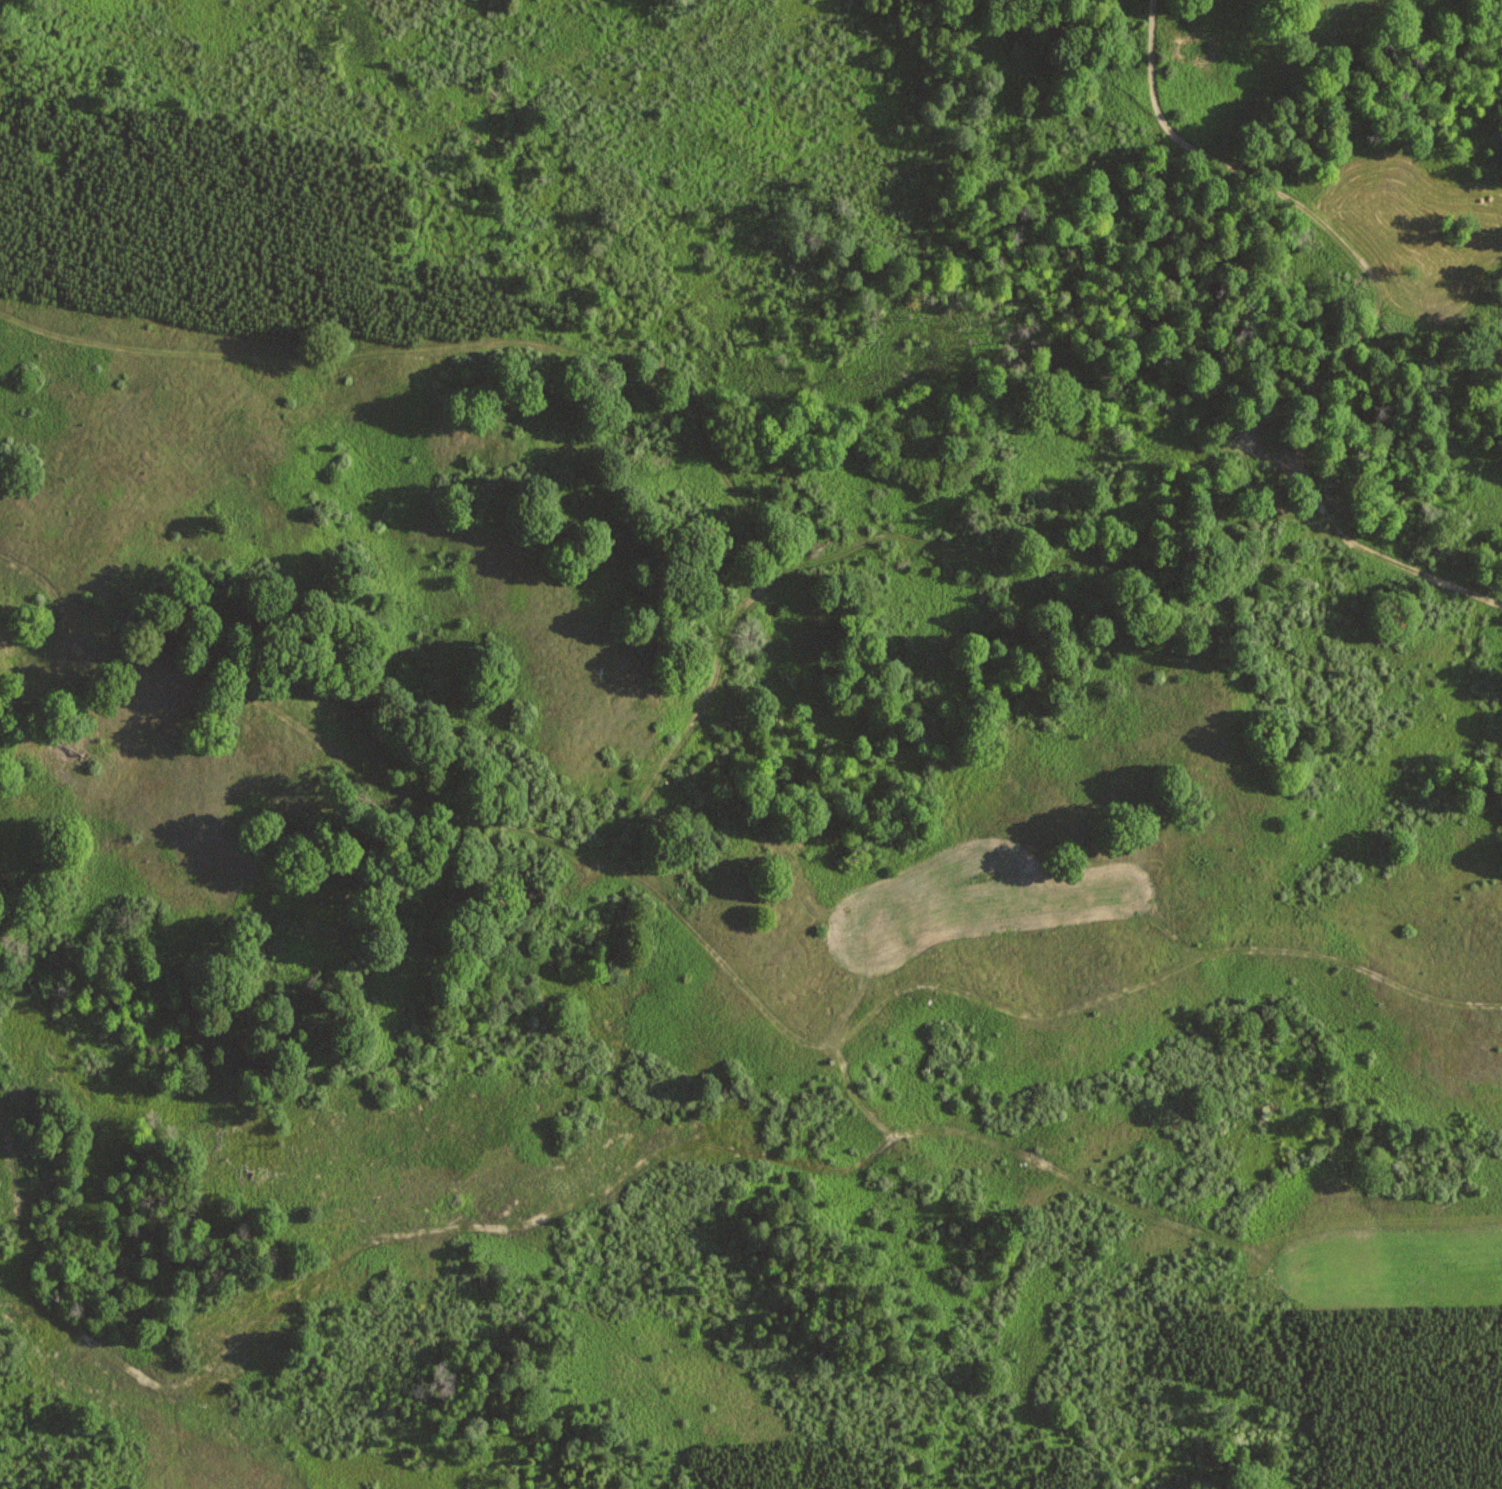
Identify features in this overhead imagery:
road: (1216, 160)

